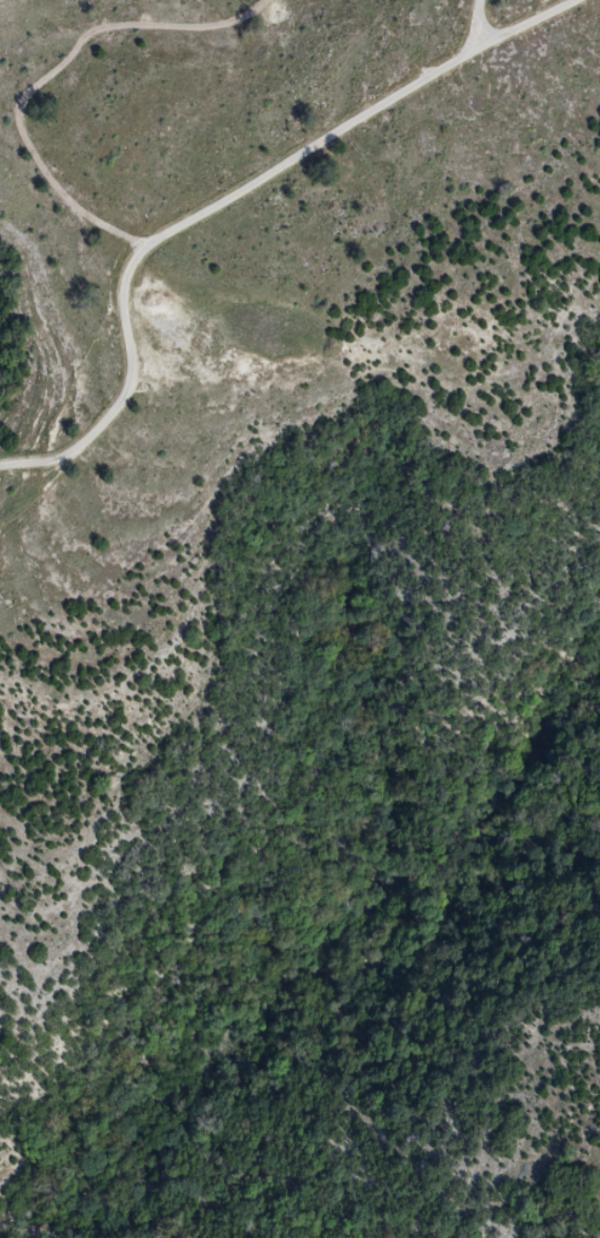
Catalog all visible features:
road: (487, 24)
road: (233, 202)

